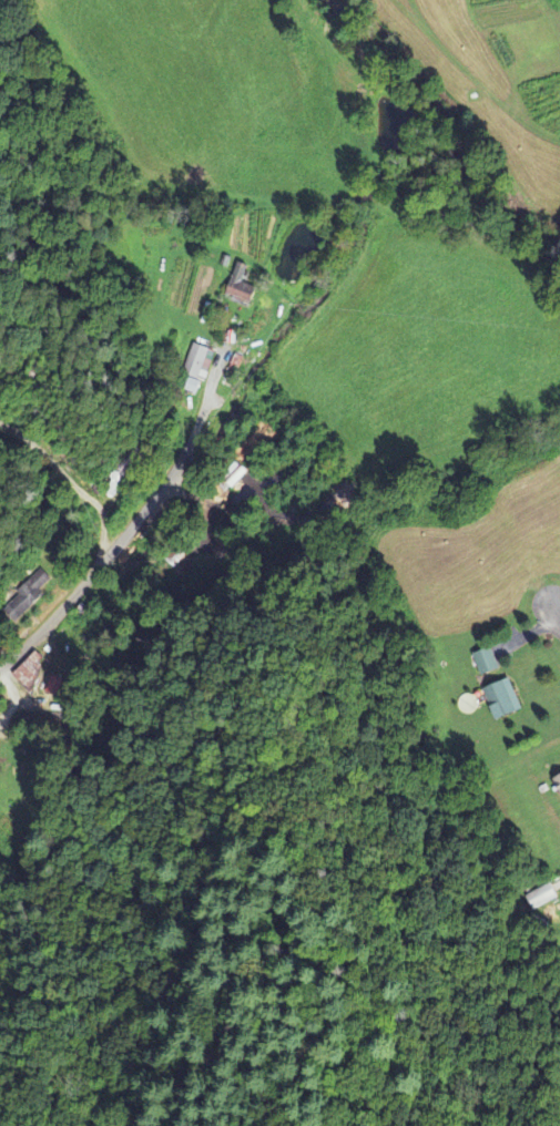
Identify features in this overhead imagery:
building: (243, 286)
building: (198, 369)
road: (106, 556)
building: (26, 597)
road: (556, 613)
building: (488, 663)
building: (34, 675)
building: (506, 700)
building: (558, 782)
building: (540, 898)

